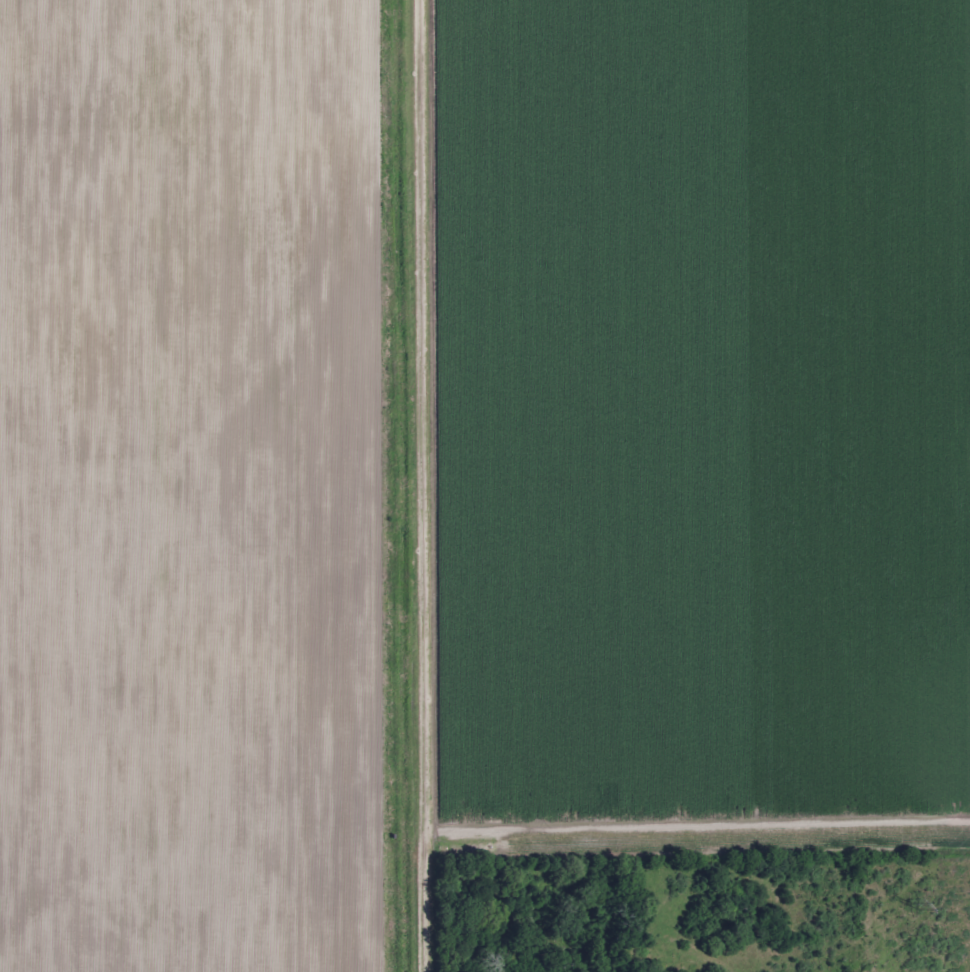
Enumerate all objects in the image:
power tower: (918, 912)

